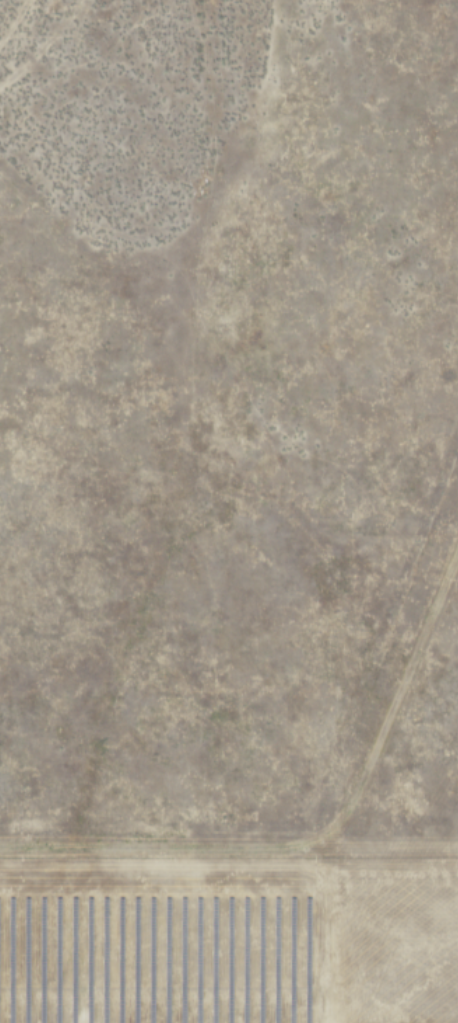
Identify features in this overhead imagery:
solar farm: (229, 941)

